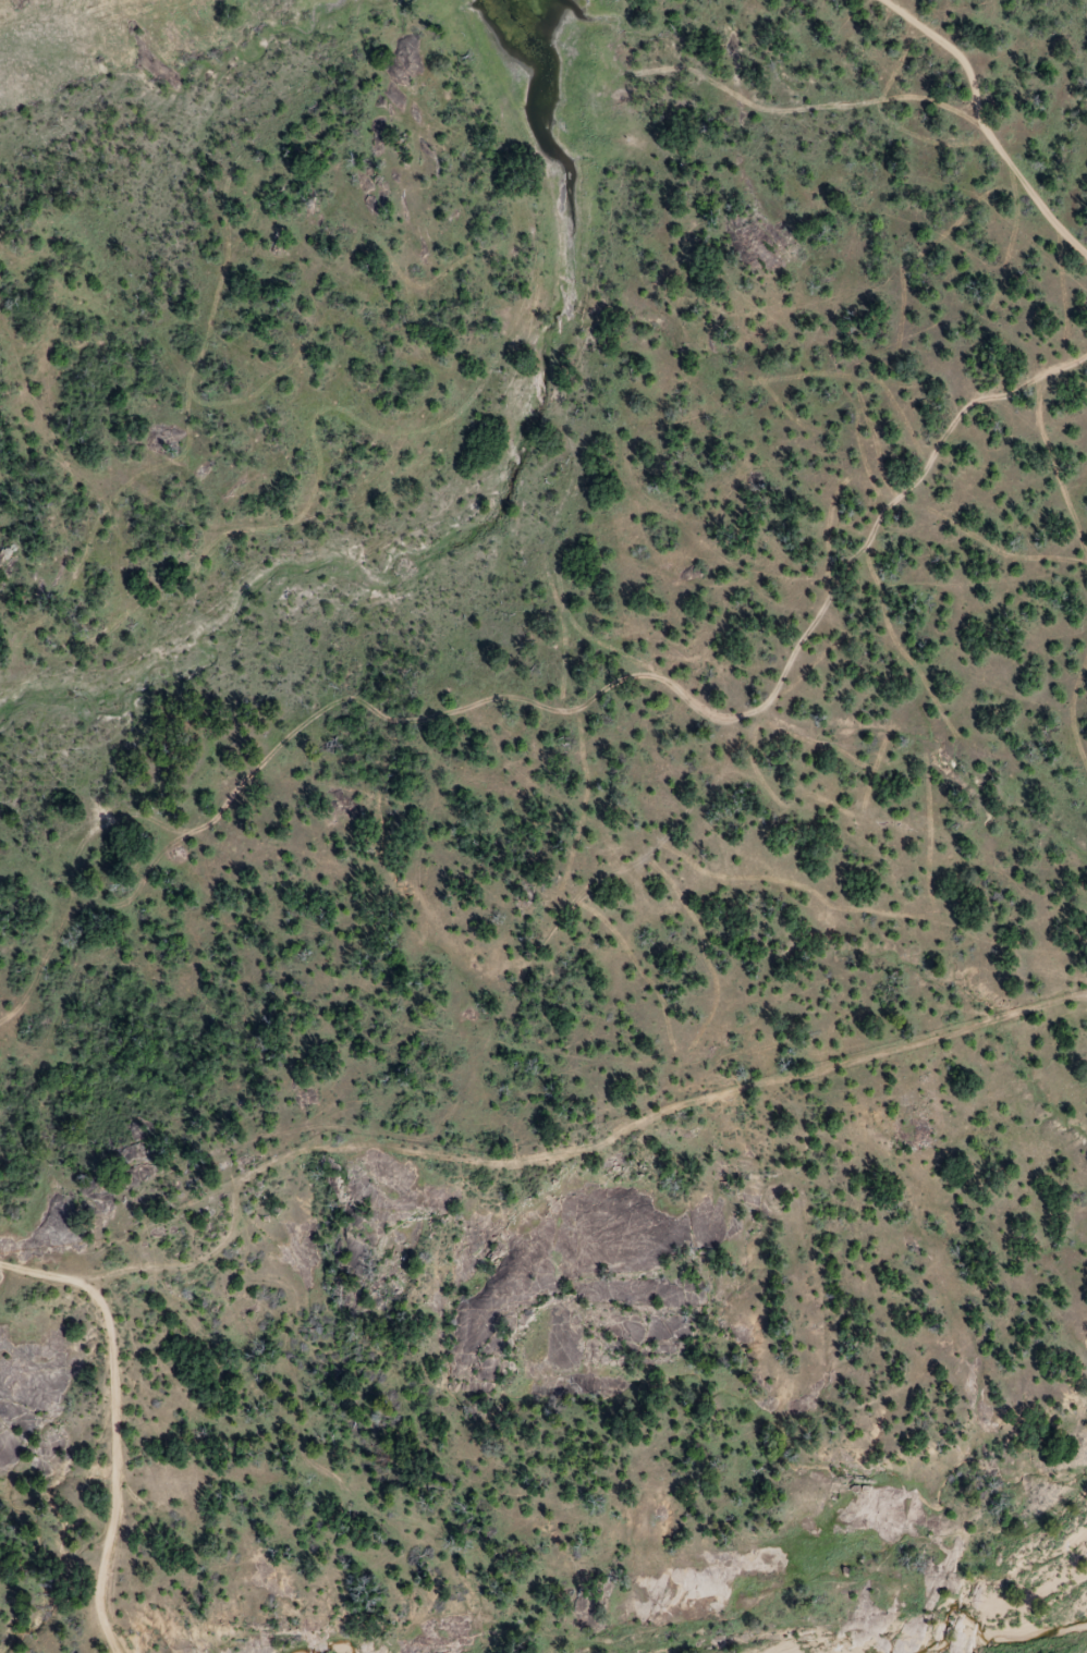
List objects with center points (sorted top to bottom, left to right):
road: (977, 125)
road: (113, 1424)

